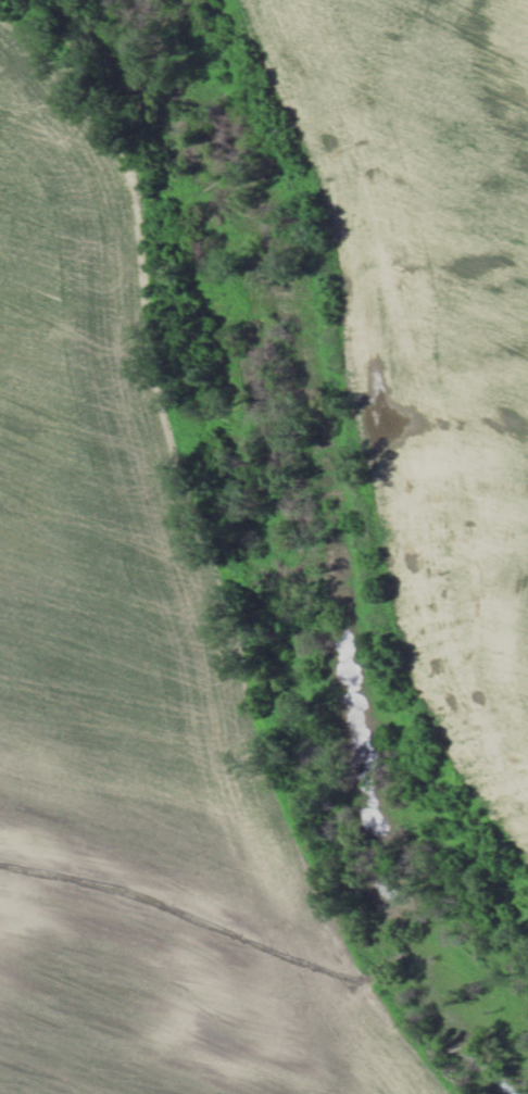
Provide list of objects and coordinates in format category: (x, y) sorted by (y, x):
crop: (73, 203)
crop: (436, 336)
crop: (143, 777)

